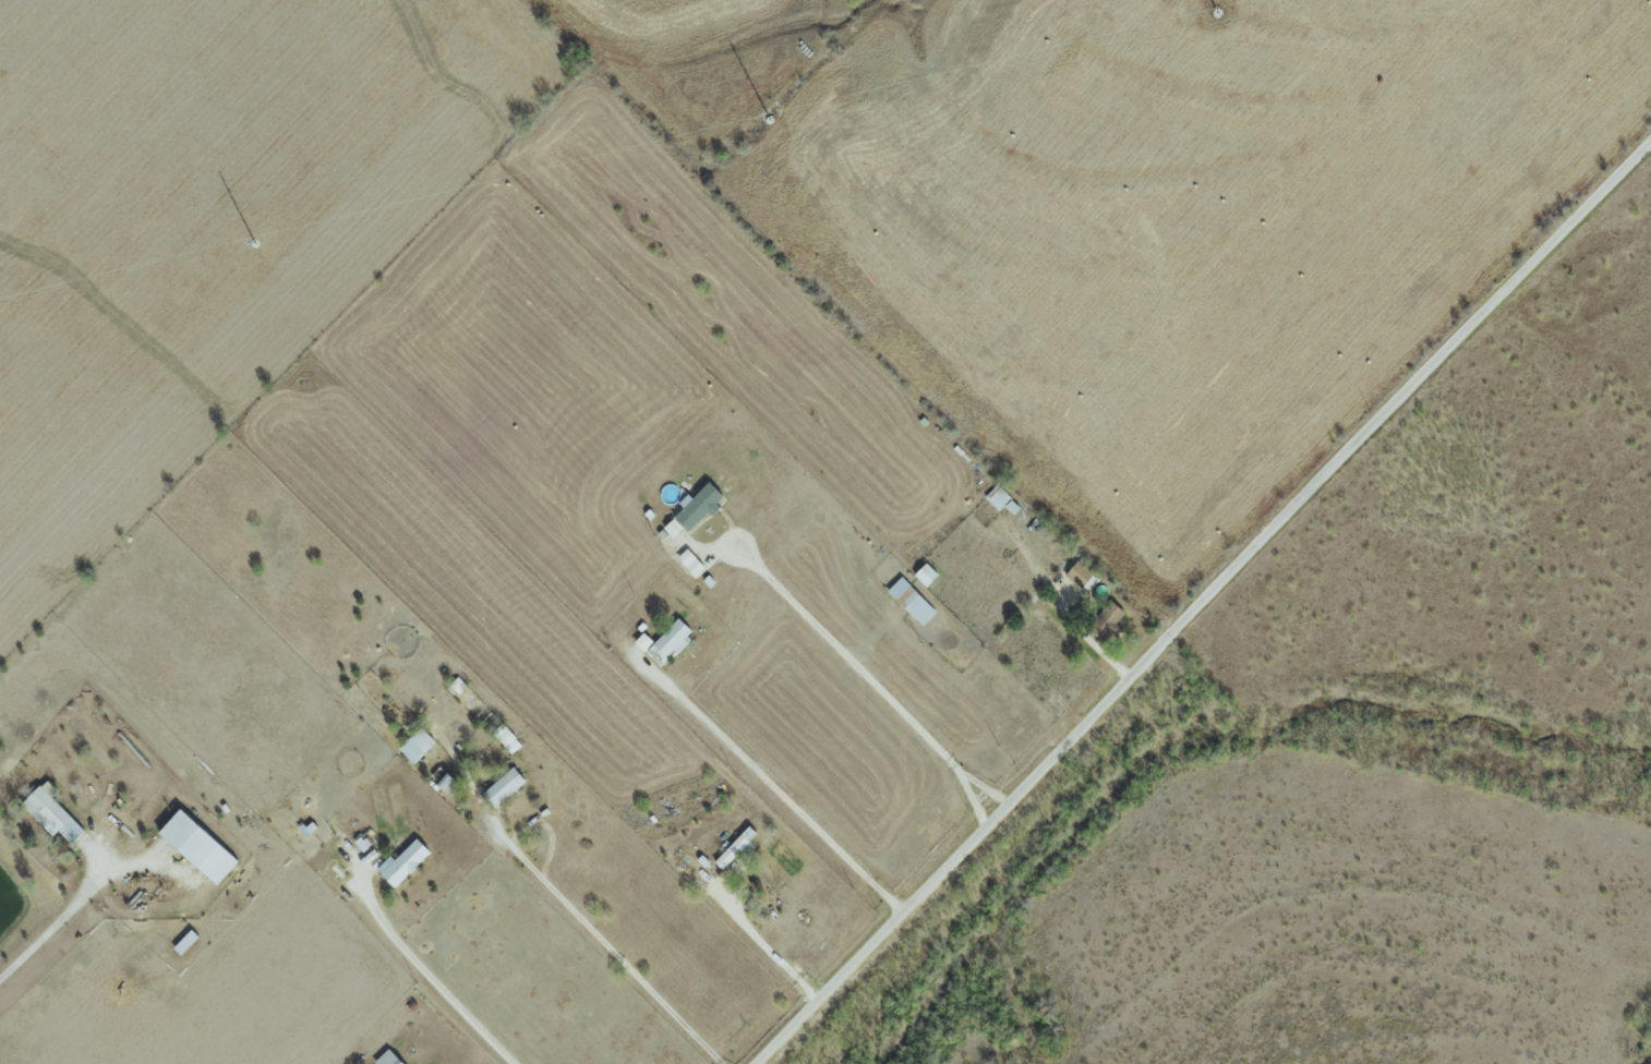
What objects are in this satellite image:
power tower: (1217, 12)
power tower: (769, 119)
power tower: (255, 242)
building: (691, 509)
building: (924, 575)
building: (1077, 575)
building: (909, 601)
road: (1202, 601)
building: (1105, 620)
building: (640, 642)
road: (847, 658)
building: (505, 738)
building: (414, 745)
building: (445, 783)
road: (984, 786)
building: (502, 787)
road: (771, 791)
road: (972, 799)
building: (50, 813)
building: (195, 847)
building: (733, 848)
building: (400, 863)
road: (567, 907)
road: (56, 921)
road: (770, 952)
road: (424, 974)
building: (386, 1059)

